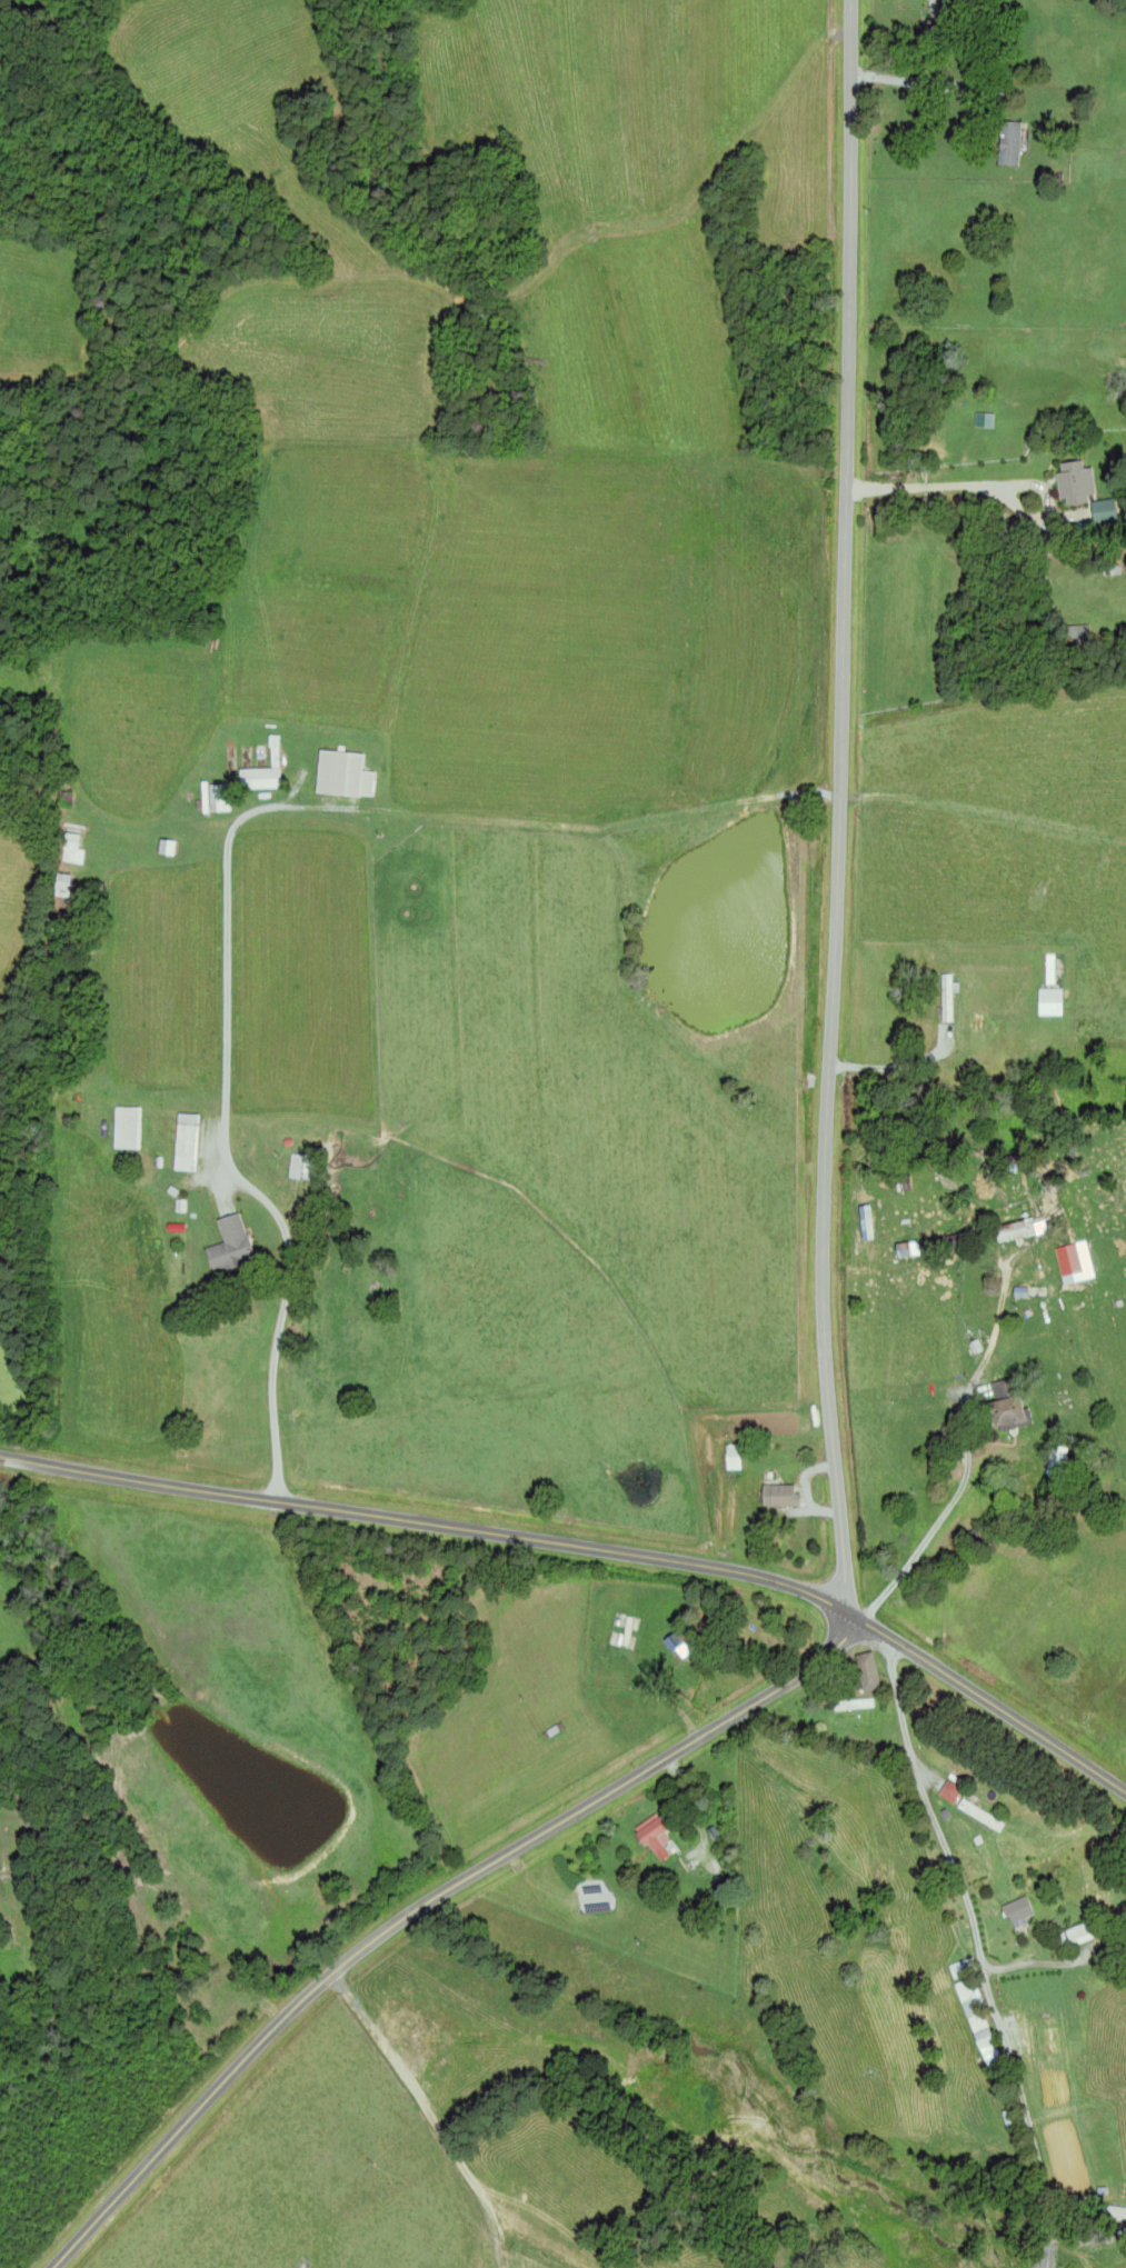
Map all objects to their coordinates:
road: (914, 79)
building: (1007, 143)
road: (984, 489)
building: (1080, 490)
building: (1076, 632)
building: (346, 773)
building: (265, 778)
building: (219, 797)
road: (840, 803)
building: (77, 847)
building: (67, 885)
building: (945, 996)
building: (974, 1021)
road: (897, 1062)
building: (129, 1127)
road: (226, 1129)
building: (189, 1141)
building: (307, 1167)
building: (1077, 1203)
building: (1008, 1230)
building: (235, 1243)
building: (899, 1249)
building: (1067, 1260)
building: (1008, 1411)
road: (968, 1451)
building: (730, 1457)
building: (777, 1496)
road: (590, 1546)
building: (865, 1671)
building: (978, 1815)
building: (651, 1837)
road: (425, 1902)
building: (1016, 1911)
building: (1077, 1934)
road: (980, 1948)
building: (963, 1979)
building: (981, 2039)
building: (1049, 2041)

